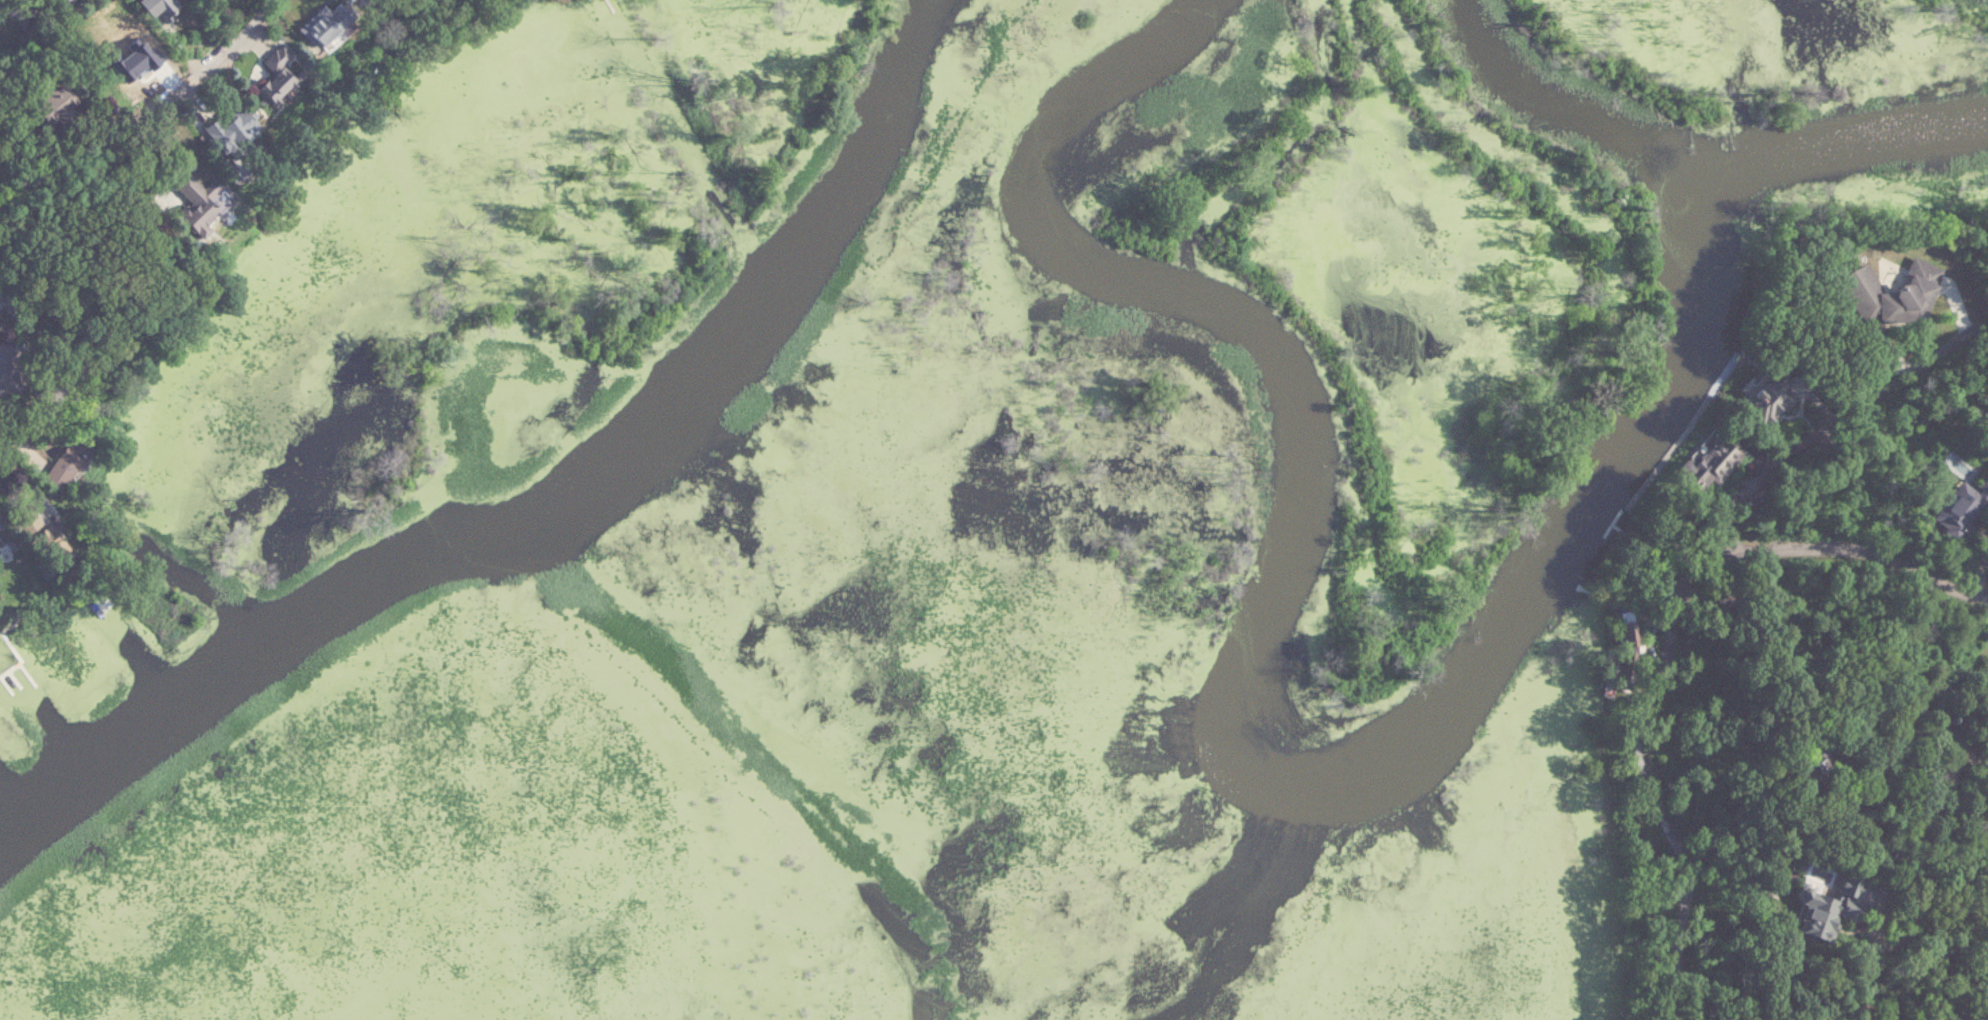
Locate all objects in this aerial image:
building: (63, 1)
building: (155, 7)
building: (312, 28)
building: (274, 78)
building: (49, 104)
road: (145, 108)
building: (227, 128)
building: (187, 224)
building: (1893, 294)
road: (35, 342)
building: (11, 368)
building: (1784, 397)
road: (34, 421)
road: (1822, 433)
building: (1710, 458)
building: (74, 470)
river: (546, 505)
building: (1964, 510)
building: (2, 514)
road: (1706, 571)
road: (1982, 580)
building: (1624, 649)
building: (1854, 757)
building: (1816, 761)
river: (1296, 785)
building: (1844, 798)
building: (1825, 909)
road: (1683, 931)
road: (1987, 999)

